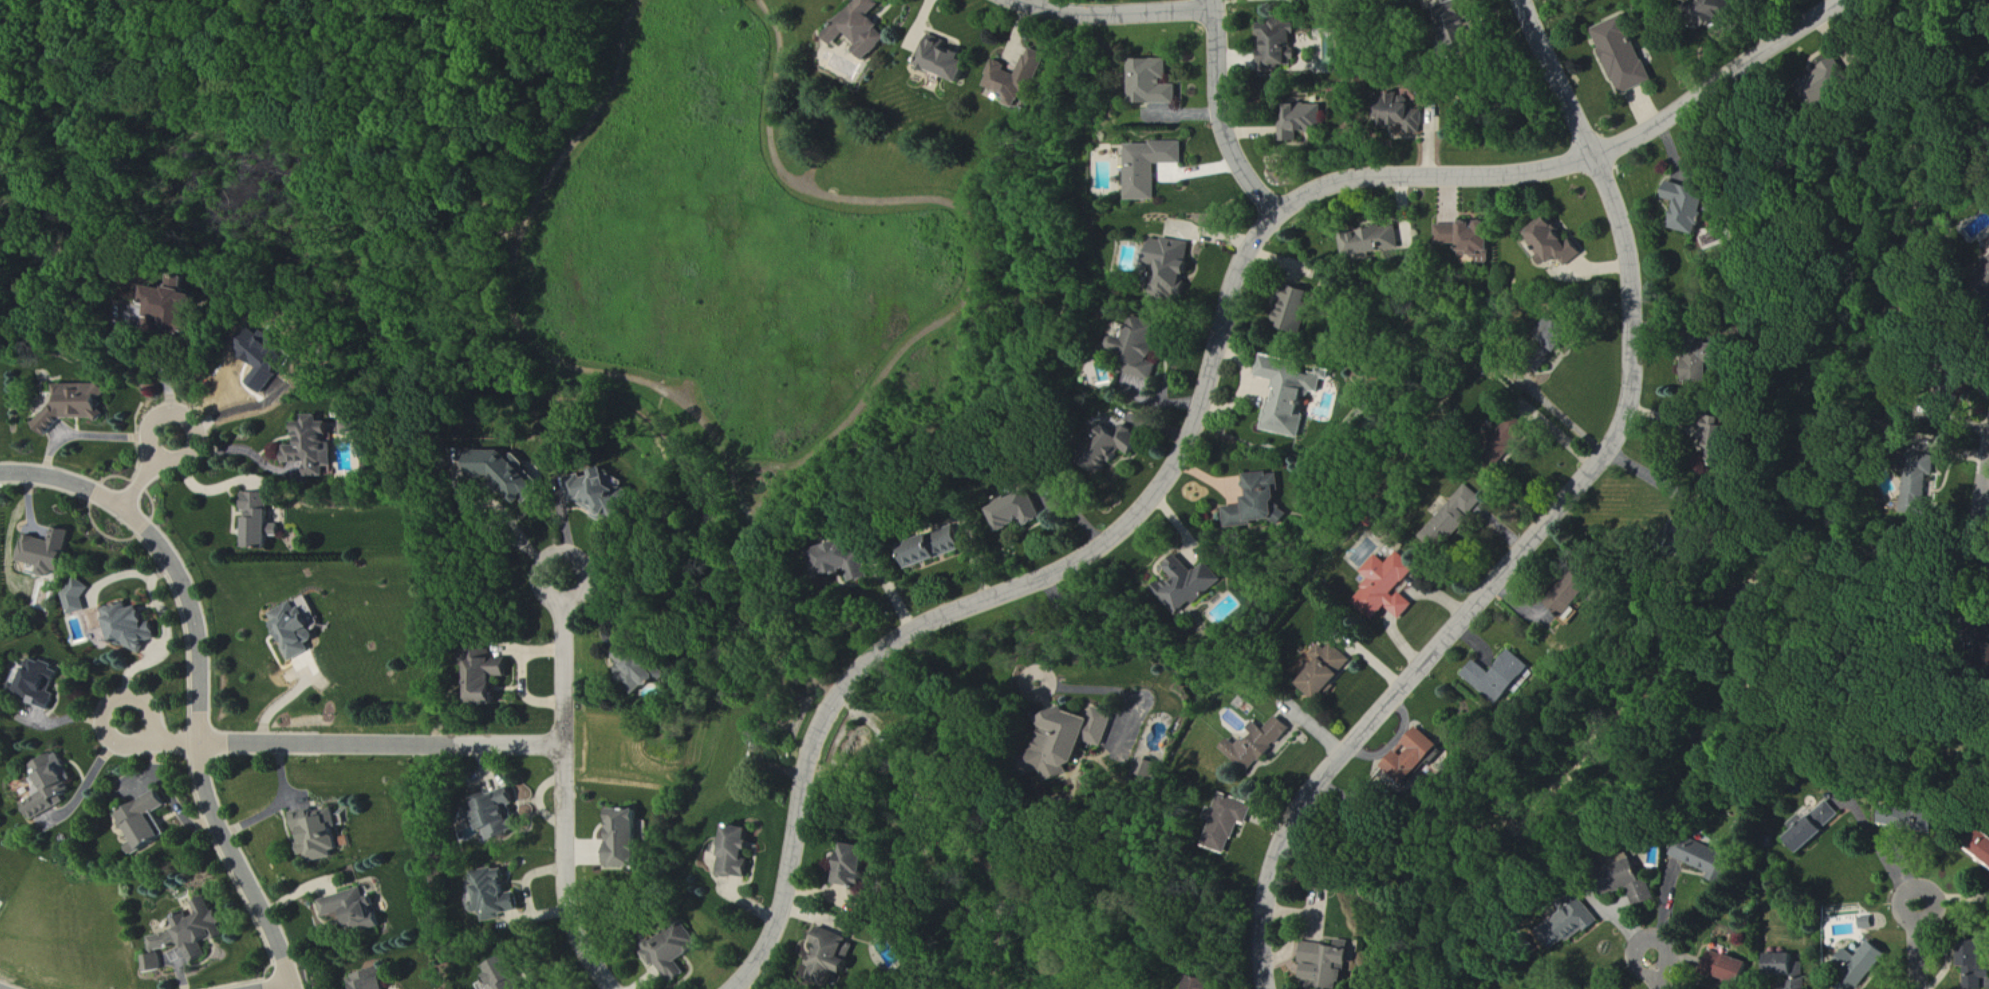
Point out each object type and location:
road: (1116, 13)
building: (863, 28)
building: (1279, 43)
building: (1623, 56)
building: (946, 61)
building: (1018, 78)
building: (1834, 81)
building: (1156, 84)
road: (1221, 115)
building: (1401, 118)
building: (1305, 122)
building: (1153, 168)
building: (1692, 208)
building: (1469, 239)
building: (1371, 243)
building: (1555, 244)
building: (174, 306)
building: (1297, 312)
building: (1145, 348)
building: (265, 355)
building: (1698, 363)
road: (160, 371)
road: (1207, 391)
building: (1288, 395)
building: (76, 406)
building: (353, 429)
road: (99, 434)
building: (1717, 442)
building: (316, 448)
road: (243, 449)
building: (1120, 450)
road: (151, 473)
building: (509, 476)
road: (201, 488)
building: (1916, 495)
building: (609, 497)
building: (1260, 503)
building: (1022, 514)
road: (1548, 517)
building: (1453, 519)
building: (262, 523)
building: (935, 550)
building: (49, 553)
building: (845, 561)
building: (1189, 585)
building: (1387, 588)
building: (78, 598)
building: (1573, 600)
building: (131, 628)
building: (297, 631)
building: (642, 670)
building: (1328, 673)
building: (1501, 678)
building: (490, 679)
road: (200, 680)
building: (42, 685)
road: (1060, 687)
road: (164, 738)
road: (384, 743)
building: (1263, 745)
building: (1416, 758)
building: (52, 784)
road: (565, 788)
building: (500, 815)
building: (1910, 818)
building: (1234, 821)
building: (147, 822)
building: (1816, 827)
building: (322, 834)
building: (627, 839)
building: (739, 851)
road: (1880, 853)
building: (1982, 854)
building: (1706, 859)
building: (857, 866)
building: (1640, 888)
building: (358, 908)
building: (1577, 922)
building: (1868, 922)
building: (189, 935)
road: (1922, 947)
building: (673, 952)
building: (832, 957)
building: (1333, 963)
building: (1862, 964)
building: (1975, 964)
building: (1728, 967)
building: (1787, 968)
road: (1659, 971)
building: (508, 974)
building: (369, 980)
building: (1195, 983)
road: (282, 987)

